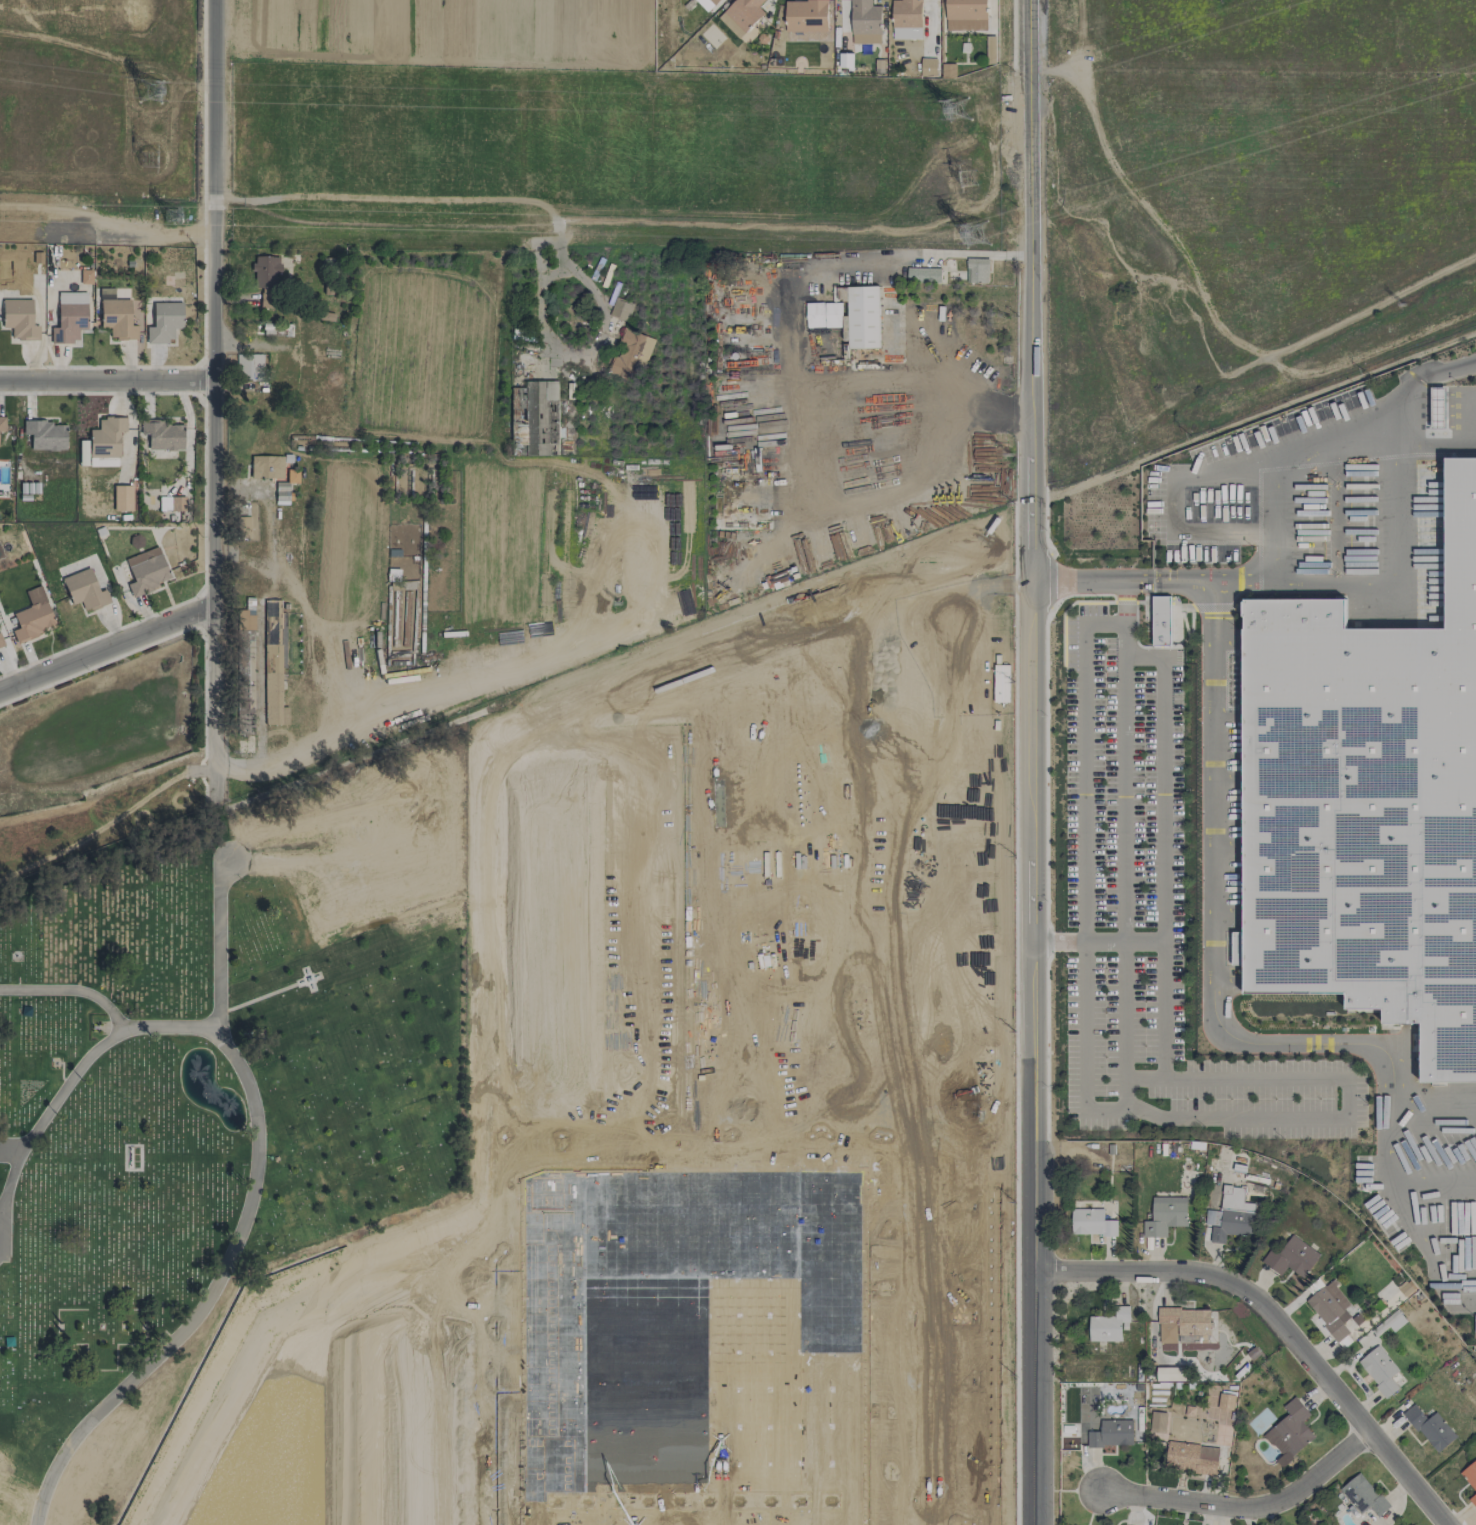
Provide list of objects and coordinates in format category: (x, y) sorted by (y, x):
building: (707, 4)
building: (806, 15)
building: (966, 15)
building: (741, 16)
building: (906, 19)
building: (865, 22)
crop: (445, 27)
building: (846, 60)
building: (928, 67)
power tower: (150, 92)
power tower: (959, 111)
power tower: (148, 159)
power tower: (966, 180)
road: (534, 200)
power tower: (169, 215)
road: (106, 218)
power tower: (974, 233)
road: (862, 265)
building: (977, 270)
building: (923, 274)
building: (265, 278)
building: (621, 309)
building: (824, 315)
building: (69, 317)
building: (863, 317)
building: (116, 318)
building: (18, 319)
building: (164, 322)
building: (276, 329)
building: (630, 354)
building: (249, 366)
road: (106, 379)
road: (903, 381)
road: (214, 398)
building: (1437, 407)
building: (541, 417)
building: (1, 424)
building: (45, 435)
building: (162, 435)
road: (1439, 446)
road: (1314, 450)
building: (265, 466)
building: (291, 476)
building: (280, 492)
building: (122, 497)
building: (171, 502)
road: (243, 558)
road: (1397, 558)
building: (145, 570)
road: (1136, 582)
building: (84, 590)
building: (32, 616)
building: (1161, 621)
building: (1, 643)
road: (309, 643)
road: (107, 646)
road: (537, 659)
building: (272, 664)
road: (1033, 762)
building: (1368, 804)
road: (1123, 885)
road: (1058, 941)
road: (1121, 941)
road: (1215, 954)
road: (218, 966)
road: (69, 990)
road: (96, 1048)
park: (215, 1083)
road: (1286, 1114)
road: (10, 1150)
road: (1435, 1177)
road: (10, 1178)
road: (1405, 1212)
building: (1229, 1216)
building: (1091, 1222)
road: (8, 1241)
building: (1292, 1257)
road: (208, 1298)
building: (1330, 1309)
building: (1393, 1321)
building: (1183, 1324)
building: (1109, 1325)
road: (1282, 1328)
building: (696, 1344)
building: (1380, 1370)
building: (1172, 1374)
road: (931, 1392)
building: (1226, 1401)
building: (1158, 1422)
building: (1293, 1427)
building: (1430, 1428)
building: (1110, 1433)
building: (1194, 1457)
building: (1470, 1479)
building: (1363, 1495)
road: (1247, 1507)

